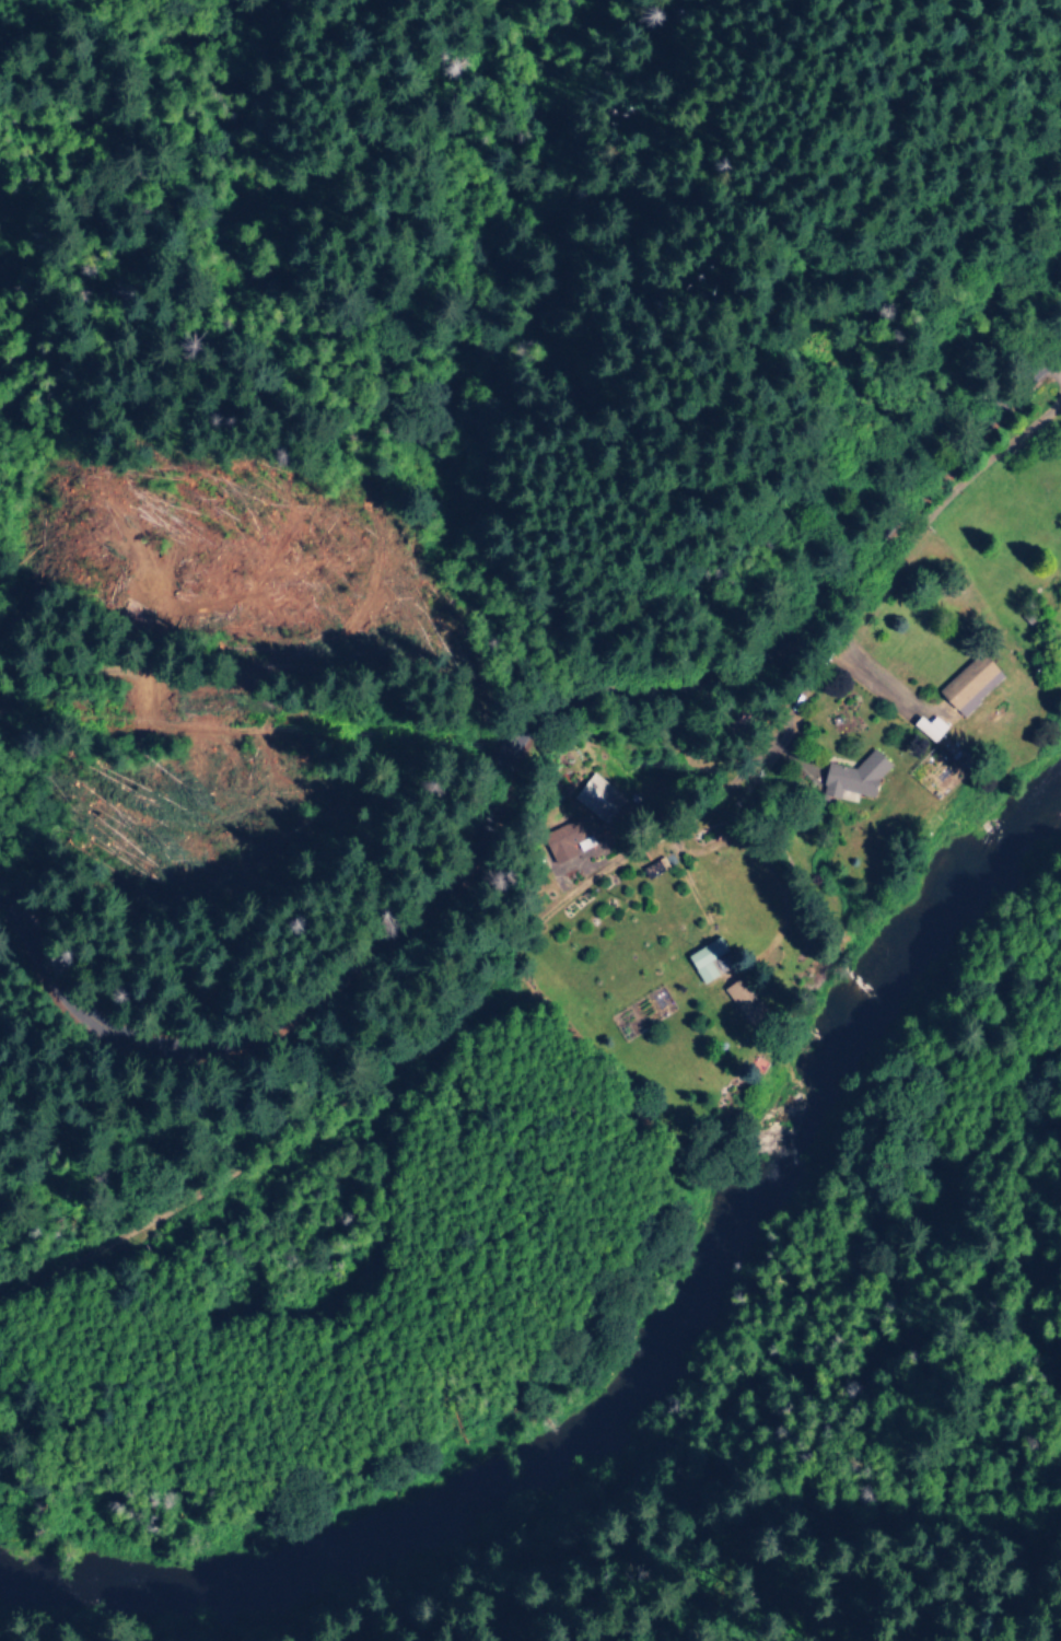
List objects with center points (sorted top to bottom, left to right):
building: (967, 684)
building: (926, 728)
road: (506, 747)
building: (850, 777)
building: (596, 798)
building: (567, 837)
building: (703, 958)
building: (737, 994)
river: (645, 1363)

